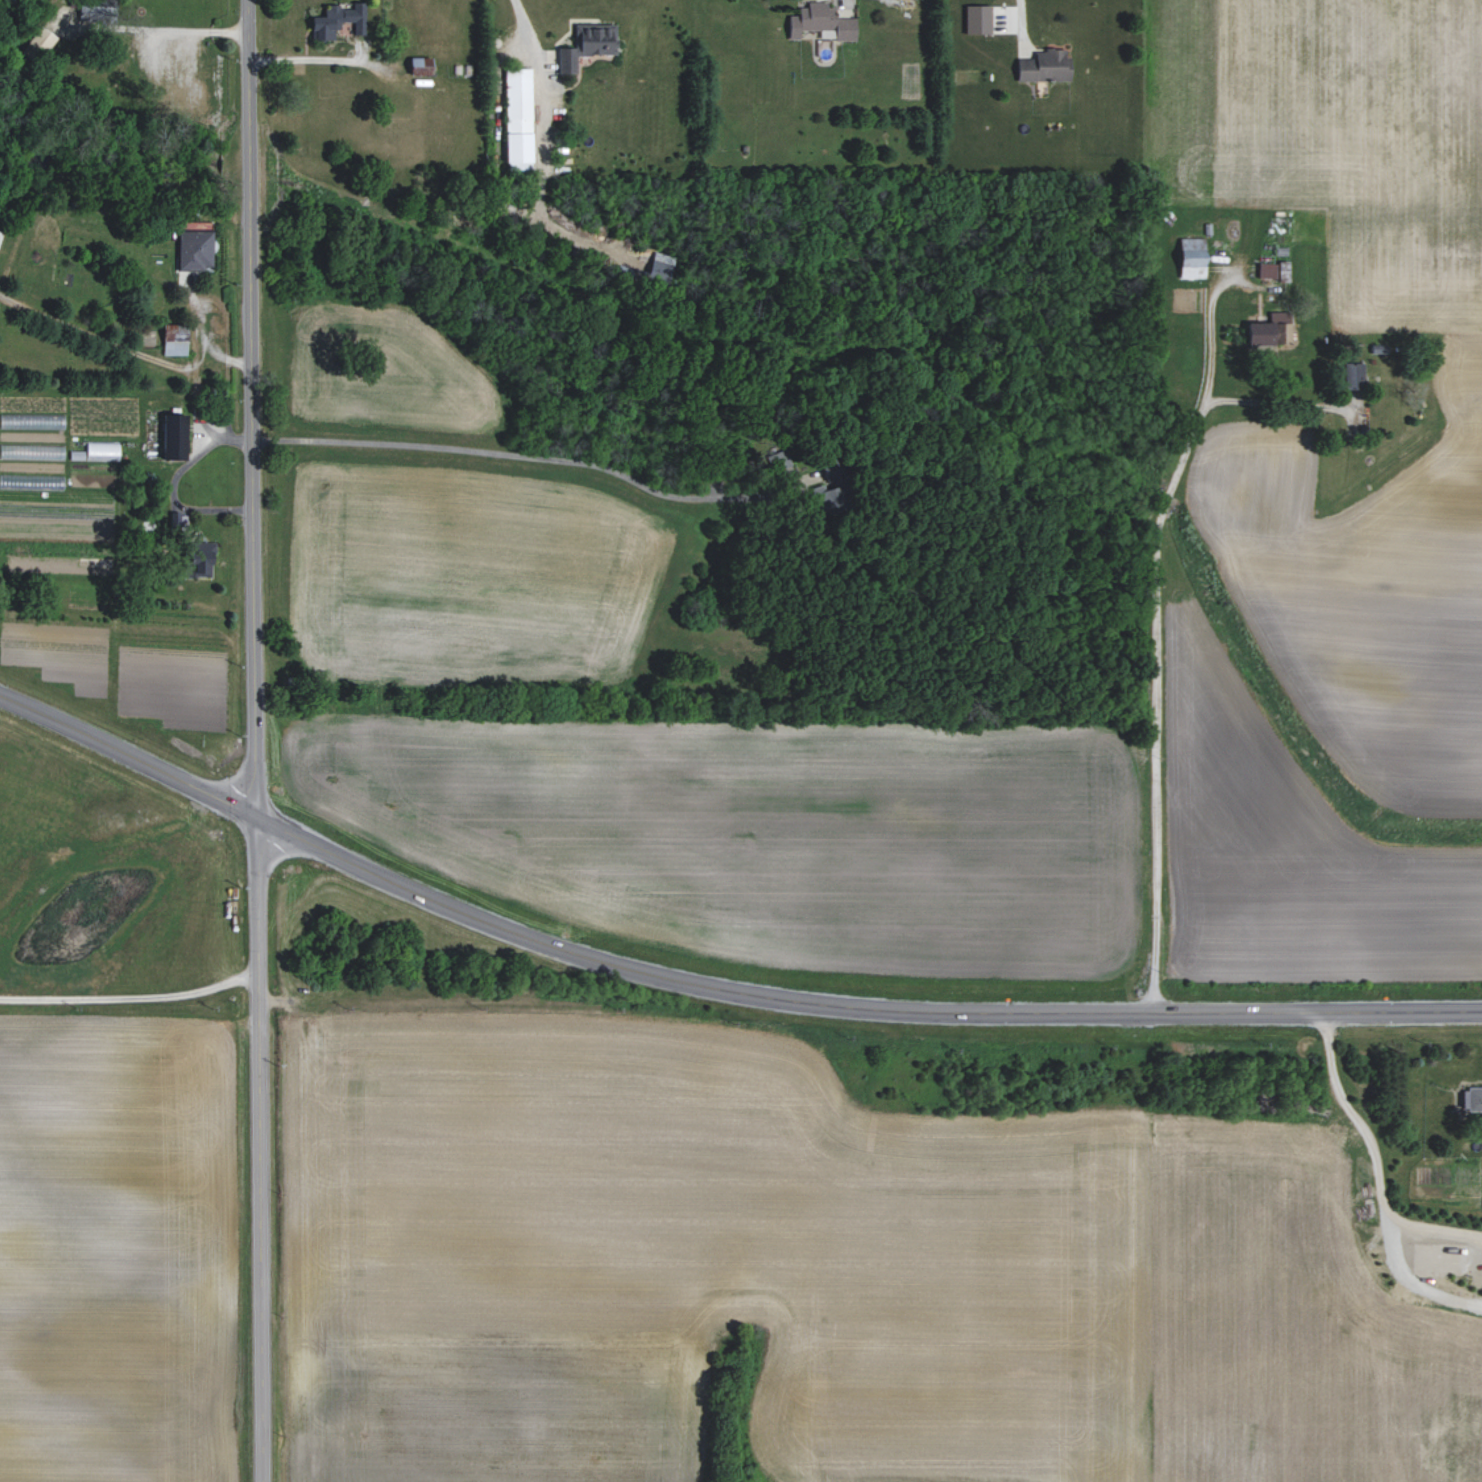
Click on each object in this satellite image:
building: (914, 0)
building: (98, 9)
building: (976, 19)
road: (1021, 20)
building: (338, 21)
building: (822, 22)
building: (38, 44)
building: (588, 45)
road: (303, 59)
building: (420, 65)
building: (1046, 67)
building: (519, 119)
crop: (1336, 137)
road: (539, 154)
building: (0, 233)
building: (195, 246)
building: (661, 267)
building: (1268, 271)
building: (186, 277)
building: (1274, 330)
building: (175, 339)
road: (205, 342)
road: (1274, 401)
road: (251, 406)
building: (32, 421)
building: (173, 437)
building: (102, 450)
building: (32, 451)
road: (535, 457)
building: (31, 482)
road: (172, 483)
building: (820, 501)
building: (175, 519)
crop: (459, 524)
building: (197, 560)
road: (1155, 640)
crop: (1325, 710)
traffic signals: (254, 813)
crop: (768, 829)
road: (711, 987)
road: (129, 997)
building: (1473, 1100)
road: (257, 1147)
road: (1377, 1157)
crop: (120, 1245)
crop: (689, 1263)

